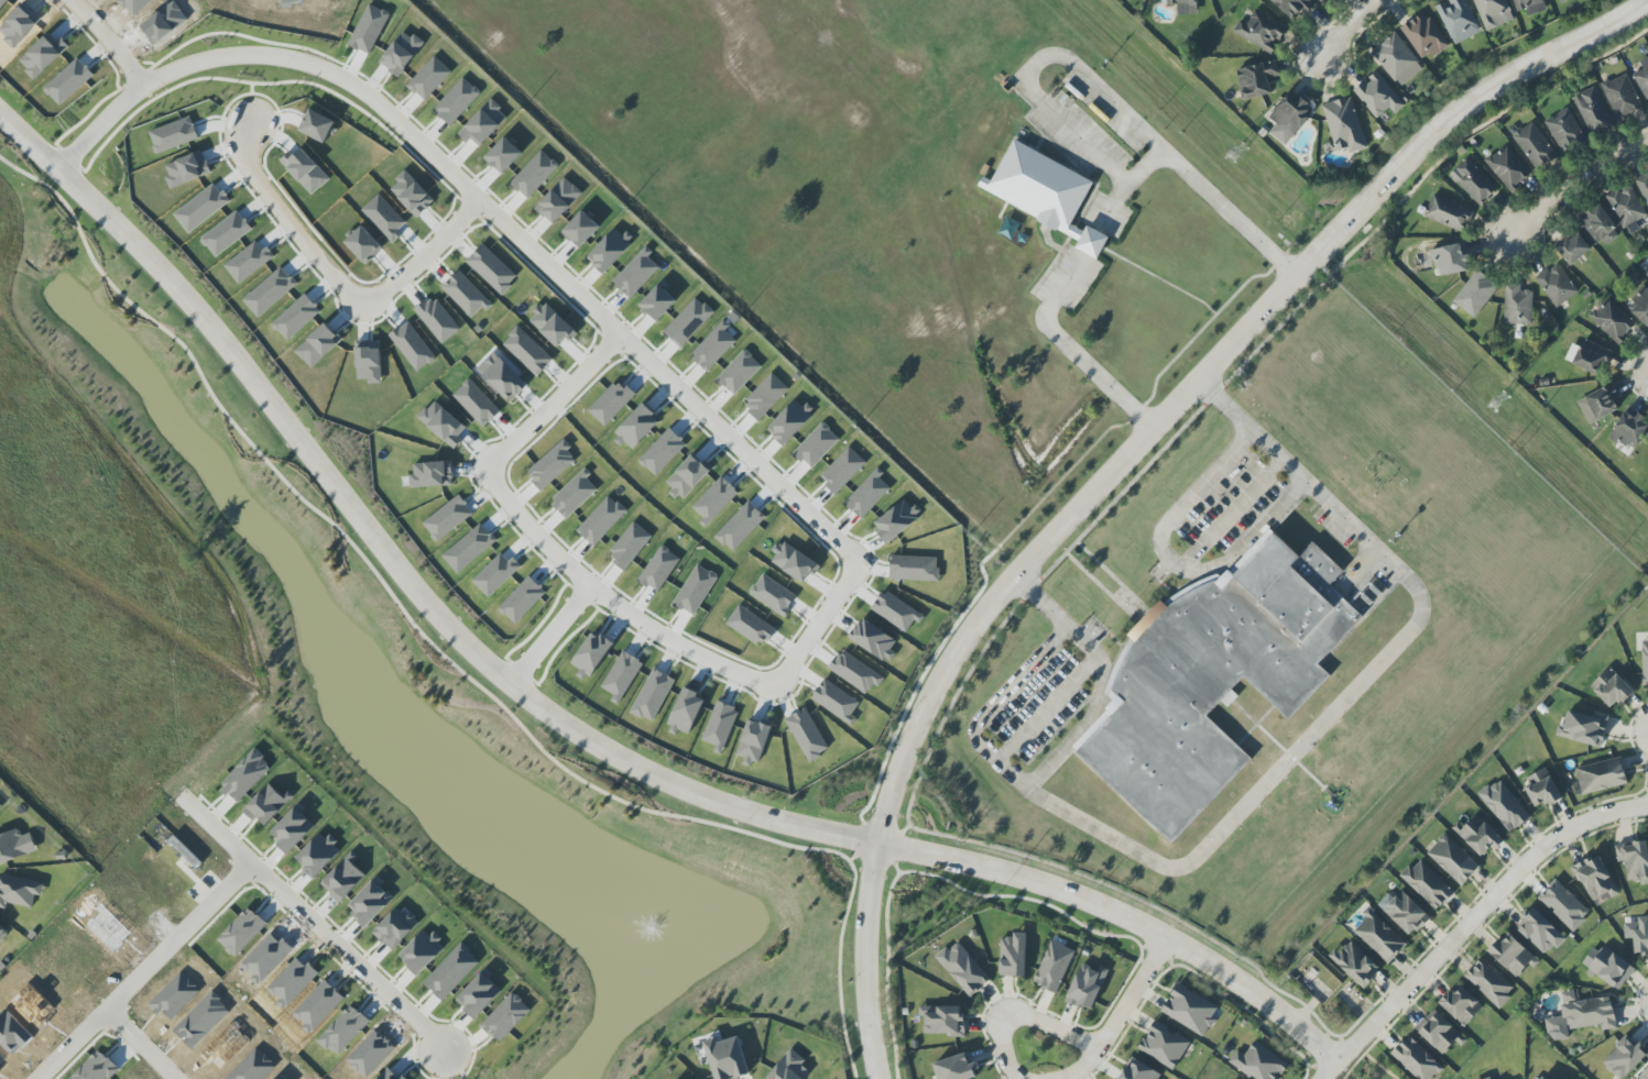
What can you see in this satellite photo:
building: (1321, 0)
building: (1561, 1)
building: (1530, 5)
building: (1185, 7)
building: (1294, 7)
building: (1493, 13)
building: (1458, 20)
road: (1345, 27)
building: (1260, 31)
building: (1423, 36)
road: (105, 45)
building: (1397, 59)
building: (1642, 77)
building: (1257, 79)
road: (1090, 85)
building: (1377, 96)
building: (1622, 96)
building: (1592, 110)
building: (1289, 119)
building: (1344, 125)
building: (1564, 130)
building: (1534, 145)
parking lot: (1096, 155)
power tower: (1241, 158)
building: (1508, 167)
building: (1473, 181)
road: (1574, 181)
building: (1644, 186)
building: (1046, 188)
building: (1626, 206)
building: (1448, 213)
building: (1597, 225)
building: (1573, 247)
building: (1451, 260)
building: (1647, 274)
building: (1557, 285)
road: (339, 291)
building: (1475, 294)
building: (1517, 305)
building: (1640, 307)
building: (1613, 320)
building: (689, 322)
road: (1069, 355)
building: (1592, 357)
road: (658, 377)
power tower: (1499, 404)
building: (1600, 405)
building: (1629, 430)
road: (1123, 459)
road: (501, 463)
road: (1227, 514)
building: (895, 520)
road: (384, 552)
road: (1170, 564)
building: (914, 569)
building: (773, 595)
building: (896, 610)
building: (750, 625)
building: (874, 640)
building: (591, 654)
building: (1645, 662)
building: (855, 672)
building: (621, 676)
building: (1216, 681)
building: (1611, 689)
building: (653, 695)
building: (836, 700)
road: (1045, 711)
building: (686, 713)
road: (1090, 714)
building: (720, 726)
building: (1584, 728)
building: (807, 735)
building: (754, 740)
building: (1601, 775)
building: (1541, 789)
road: (1254, 796)
building: (1504, 805)
building: (0, 807)
building: (1482, 835)
road: (218, 839)
building: (15, 845)
building: (1453, 859)
building: (1634, 860)
building: (1595, 879)
building: (1427, 884)
building: (19, 891)
road: (275, 894)
road: (1033, 900)
building: (1564, 905)
building: (1405, 912)
road: (1125, 917)
road: (1472, 921)
building: (242, 932)
building: (1541, 932)
building: (2, 934)
building: (1378, 936)
building: (1641, 937)
building: (1513, 955)
road: (888, 956)
building: (1013, 956)
building: (1355, 964)
building: (1054, 967)
building: (1608, 967)
building: (963, 969)
building: (1489, 982)
building: (1087, 987)
road: (1134, 995)
road: (1317, 999)
building: (1462, 1005)
building: (1190, 1010)
building: (1582, 1014)
building: (506, 1017)
road: (109, 1020)
building: (942, 1020)
road: (1041, 1021)
building: (1438, 1033)
building: (1165, 1045)
building: (727, 1058)
building: (1624, 1058)
building: (1416, 1059)
building: (1259, 1063)
park: (1369, 1063)
road: (1375, 1063)
building: (957, 1067)
building: (97, 1068)
building: (790, 1068)
building: (1139, 1071)
building: (1644, 1075)
building: (1488, 1078)
building: (1542, 1078)

